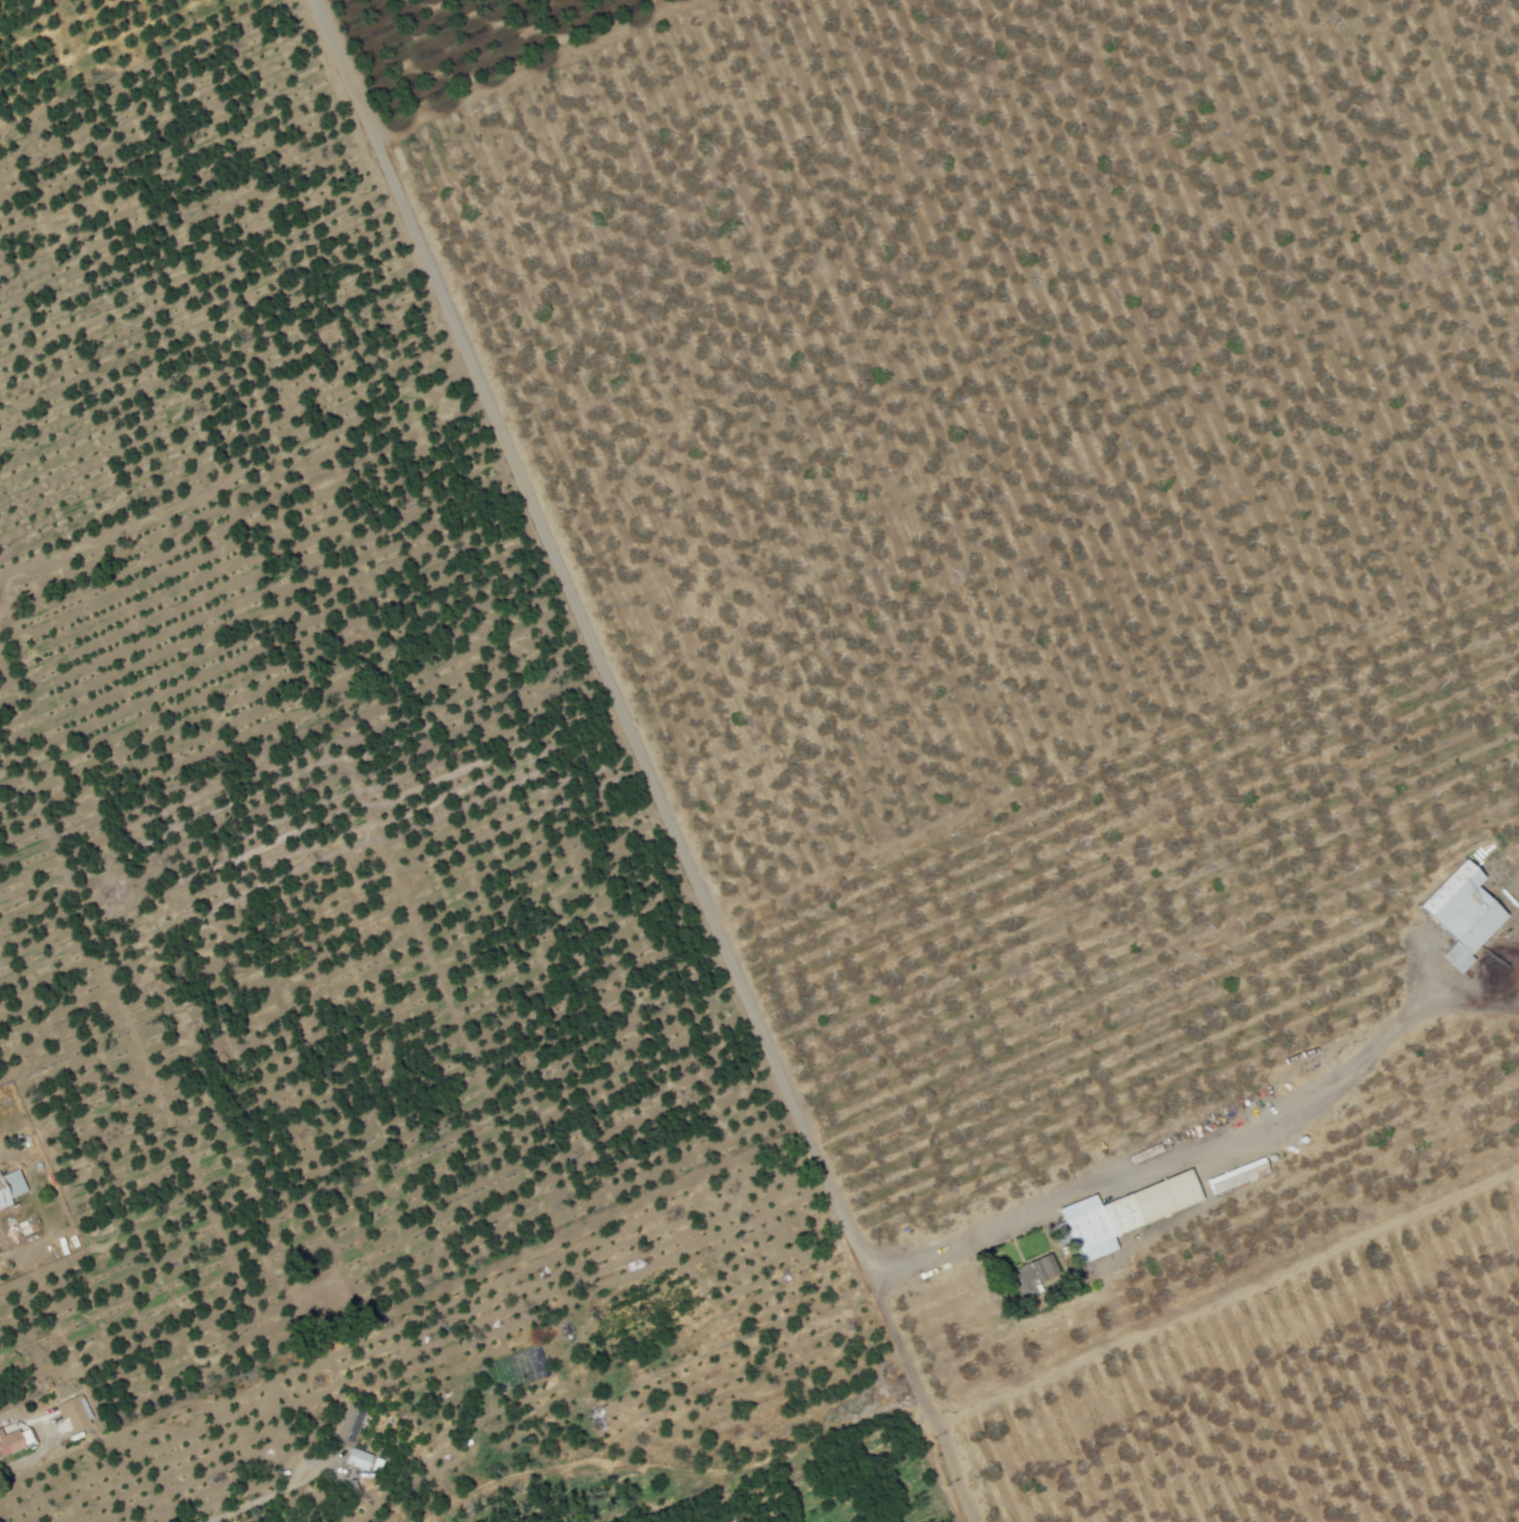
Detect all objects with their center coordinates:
building: (1466, 913)
road: (726, 965)
building: (1239, 1175)
building: (11, 1187)
building: (1127, 1214)
building: (1037, 1272)
road: (1222, 1302)
road: (914, 1396)
building: (75, 1412)
building: (350, 1423)
building: (15, 1440)
road: (28, 1459)
building: (360, 1459)
road: (279, 1493)

